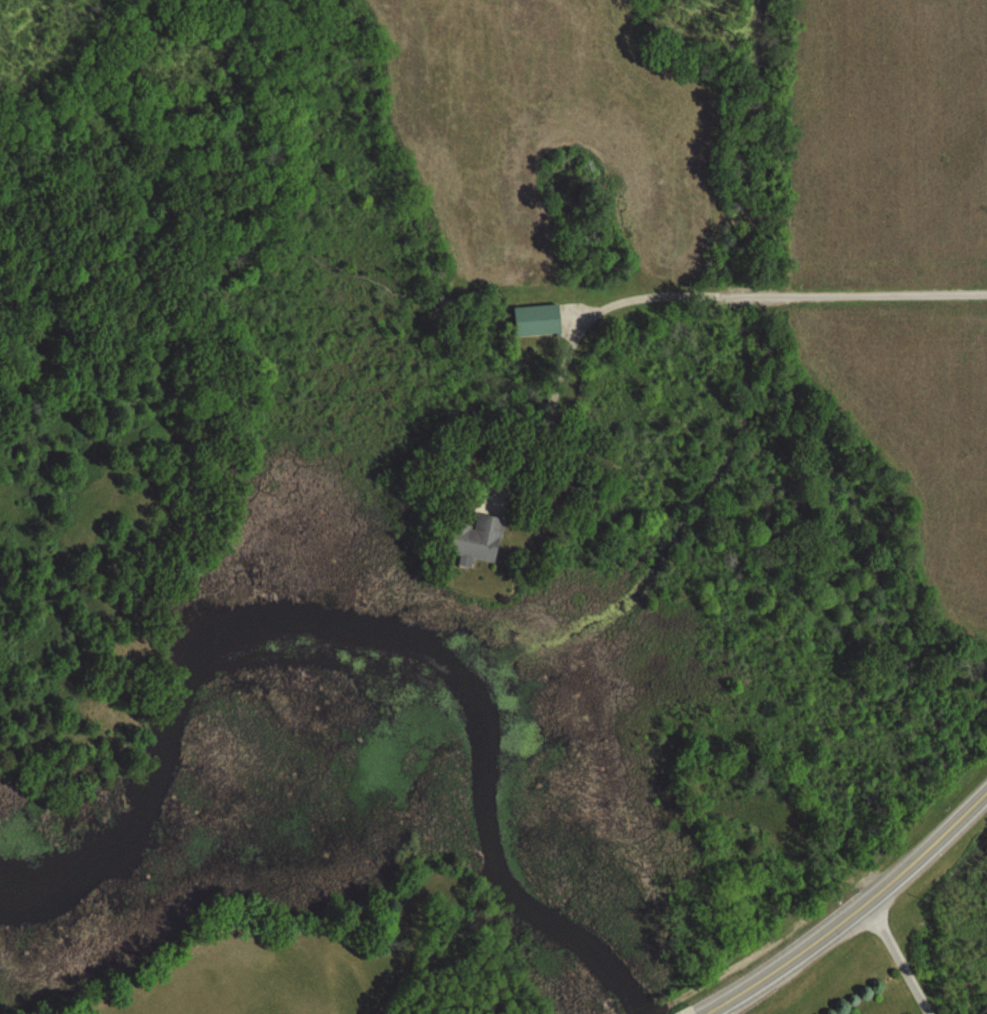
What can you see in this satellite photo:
road: (679, 295)
building: (536, 321)
building: (477, 541)
river: (376, 660)
road: (855, 913)
road: (900, 958)

